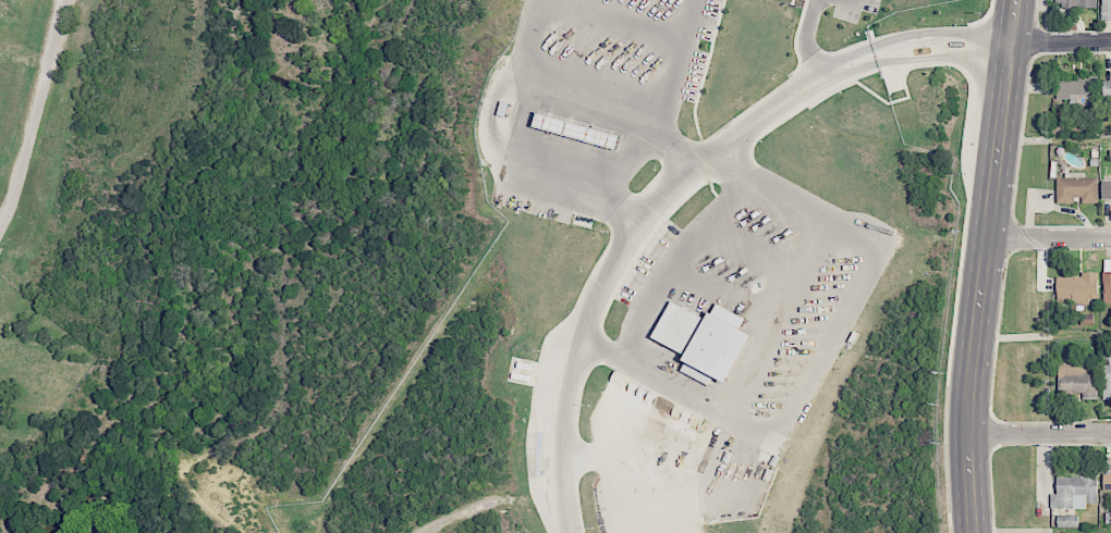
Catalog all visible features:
building: (1078, 3)
building: (1107, 10)
road: (615, 18)
road: (528, 33)
wastewater plant: (11, 34)
road: (804, 42)
road: (1060, 42)
road: (675, 61)
building: (1107, 88)
building: (1077, 89)
road: (616, 106)
road: (33, 113)
road: (630, 153)
road: (546, 163)
road: (671, 187)
building: (1076, 188)
building: (1107, 188)
road: (1049, 237)
road: (754, 252)
road: (676, 260)
road: (984, 265)
wastewater plant: (0, 274)
building: (1107, 287)
building: (1077, 288)
road: (724, 294)
road: (772, 327)
building: (706, 340)
building: (1075, 380)
building: (1106, 380)
road: (1038, 433)
building: (1107, 483)
building: (1075, 492)
building: (1067, 521)

